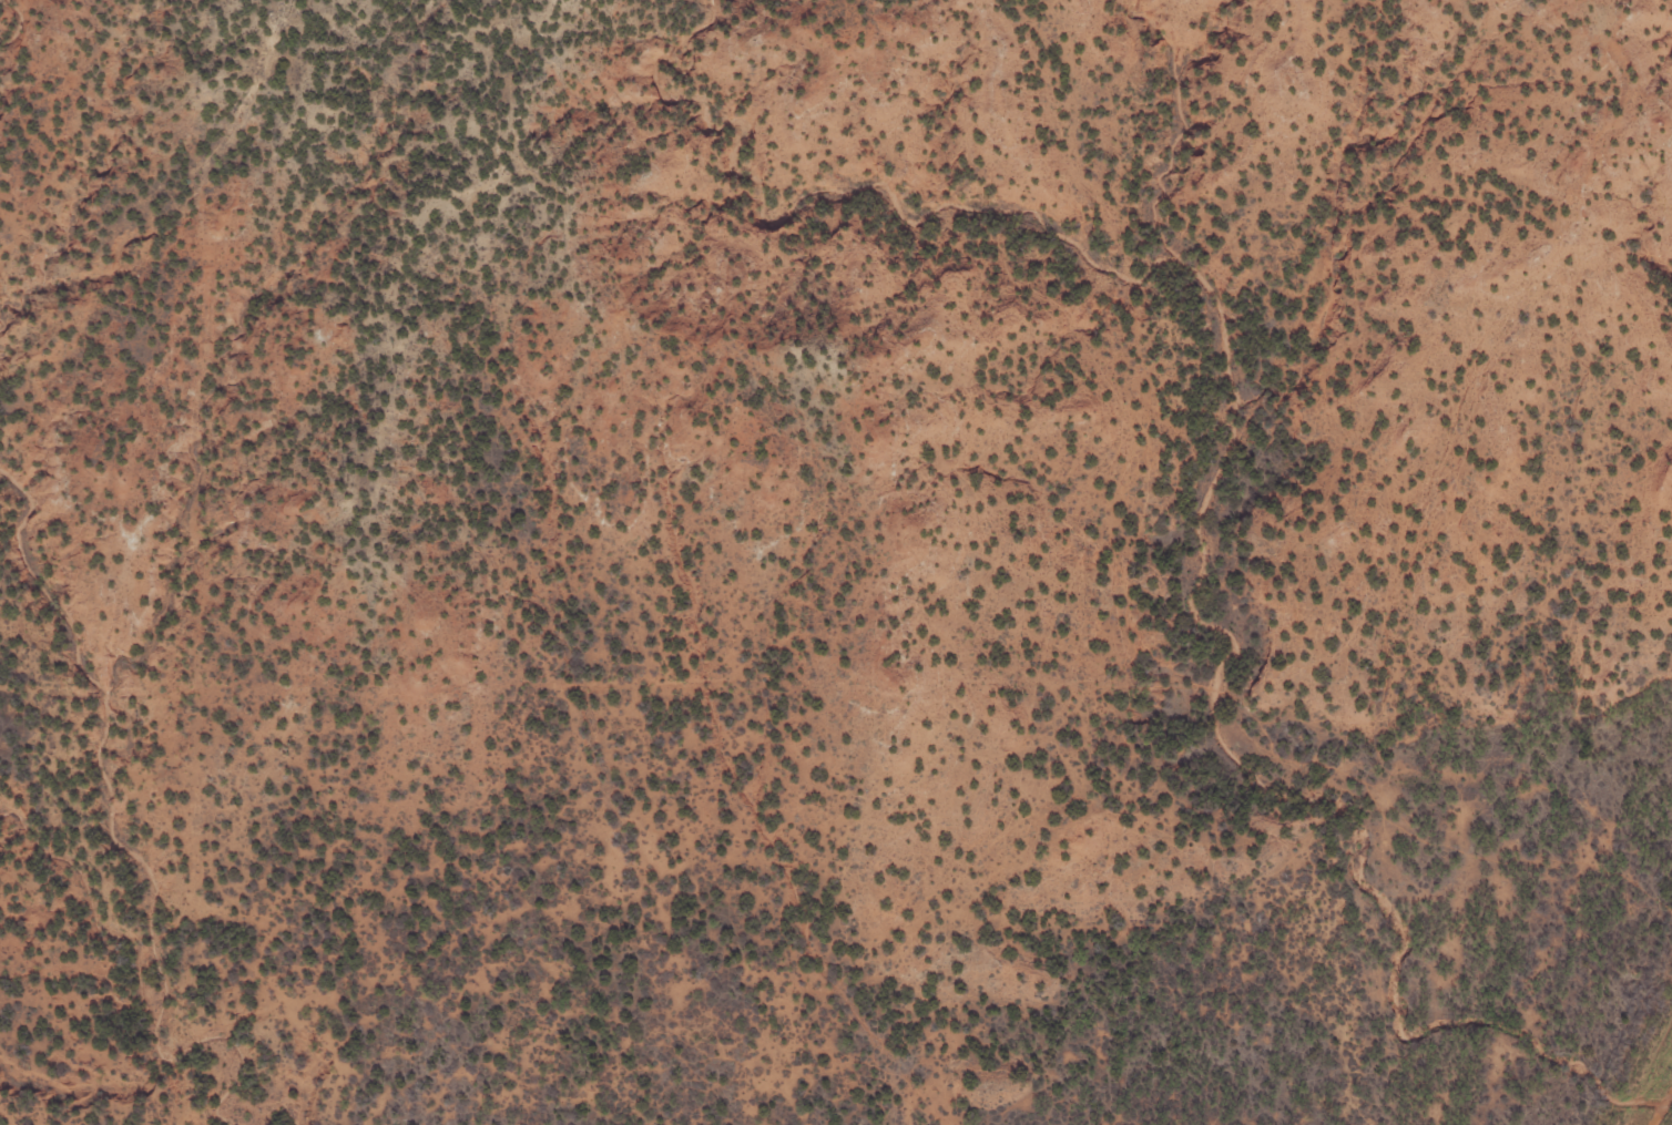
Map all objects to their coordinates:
river: (1645, 1075)

